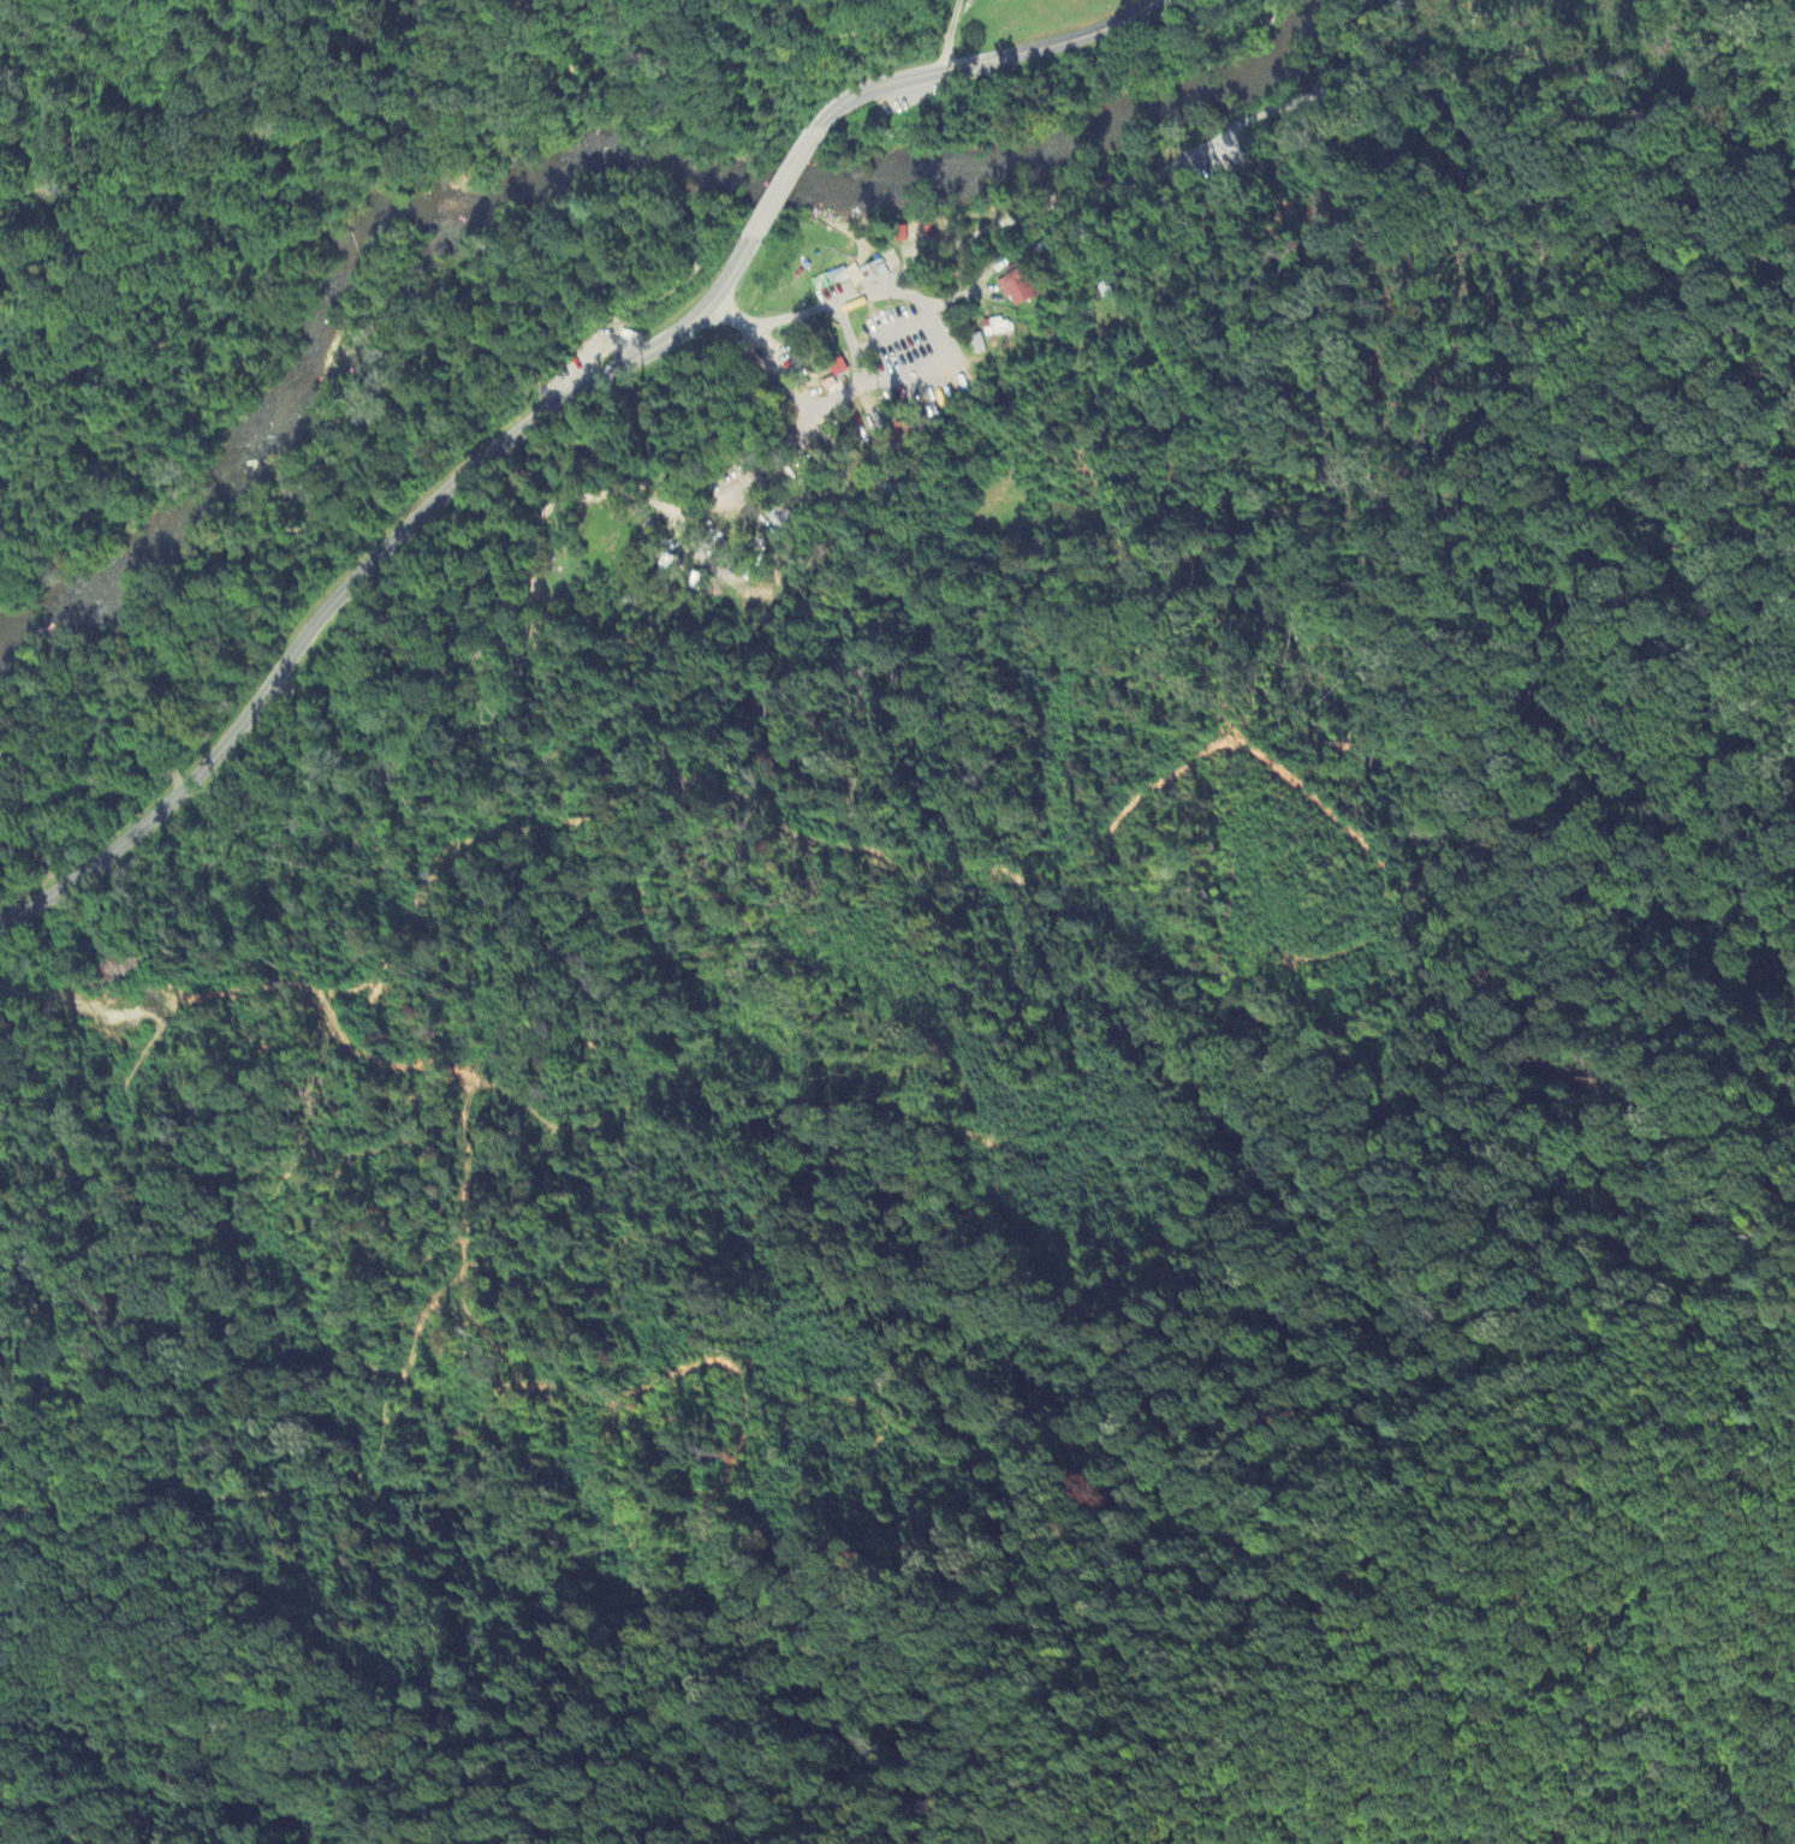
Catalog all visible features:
road: (507, 14)
road: (946, 36)
road: (989, 61)
road: (693, 63)
road: (1347, 72)
parking lot: (911, 96)
river: (592, 176)
parking lot: (1201, 179)
road: (787, 183)
road: (186, 192)
road: (1094, 195)
building: (928, 228)
building: (903, 233)
building: (872, 272)
building: (839, 276)
road: (903, 279)
building: (1018, 285)
building: (1107, 290)
road: (953, 297)
building: (997, 328)
road: (938, 337)
building: (977, 344)
road: (872, 345)
road: (590, 347)
road: (897, 349)
parking lot: (596, 352)
road: (858, 369)
road: (368, 572)
road: (118, 626)

